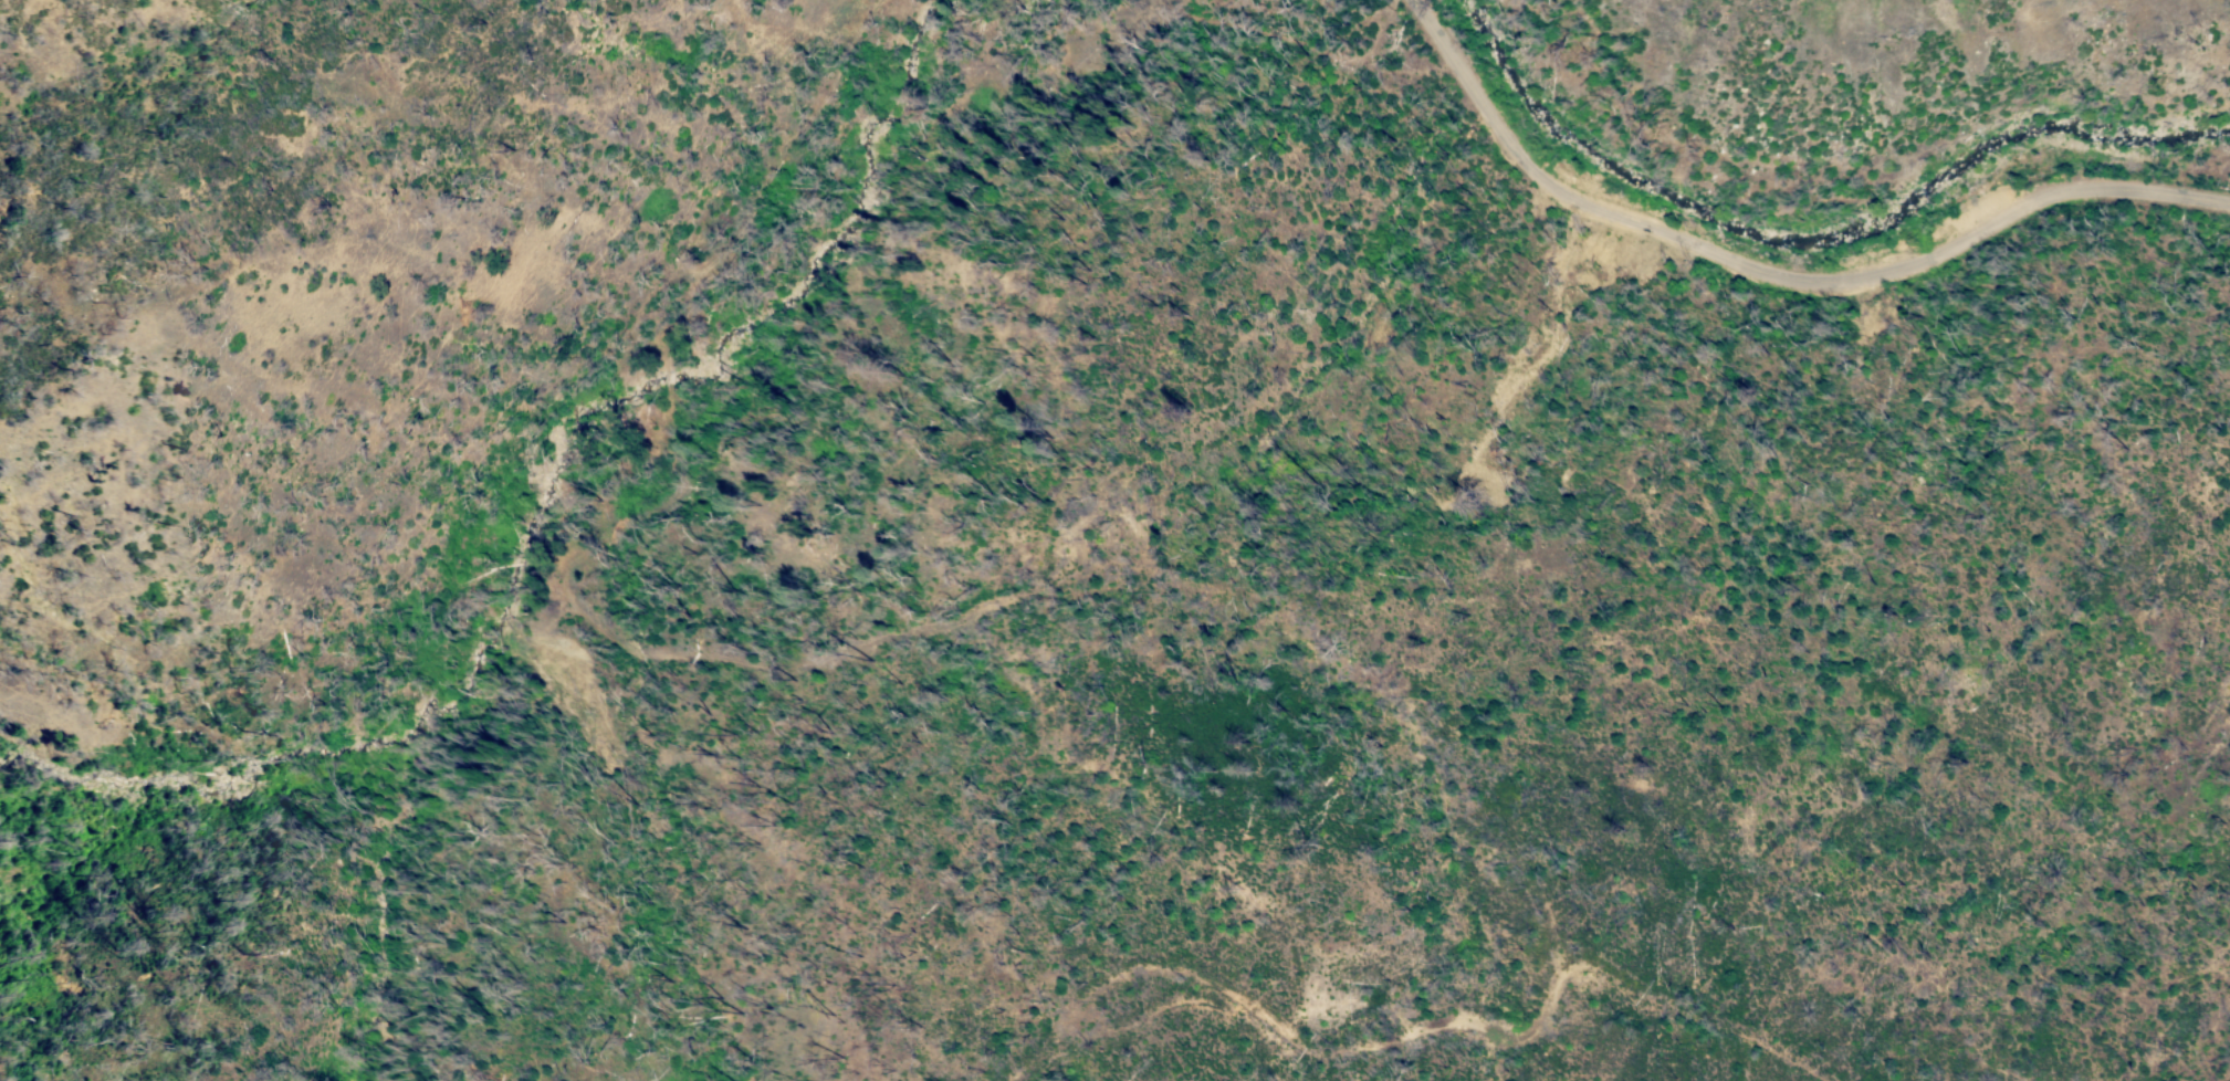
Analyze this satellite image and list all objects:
road: (1772, 275)

